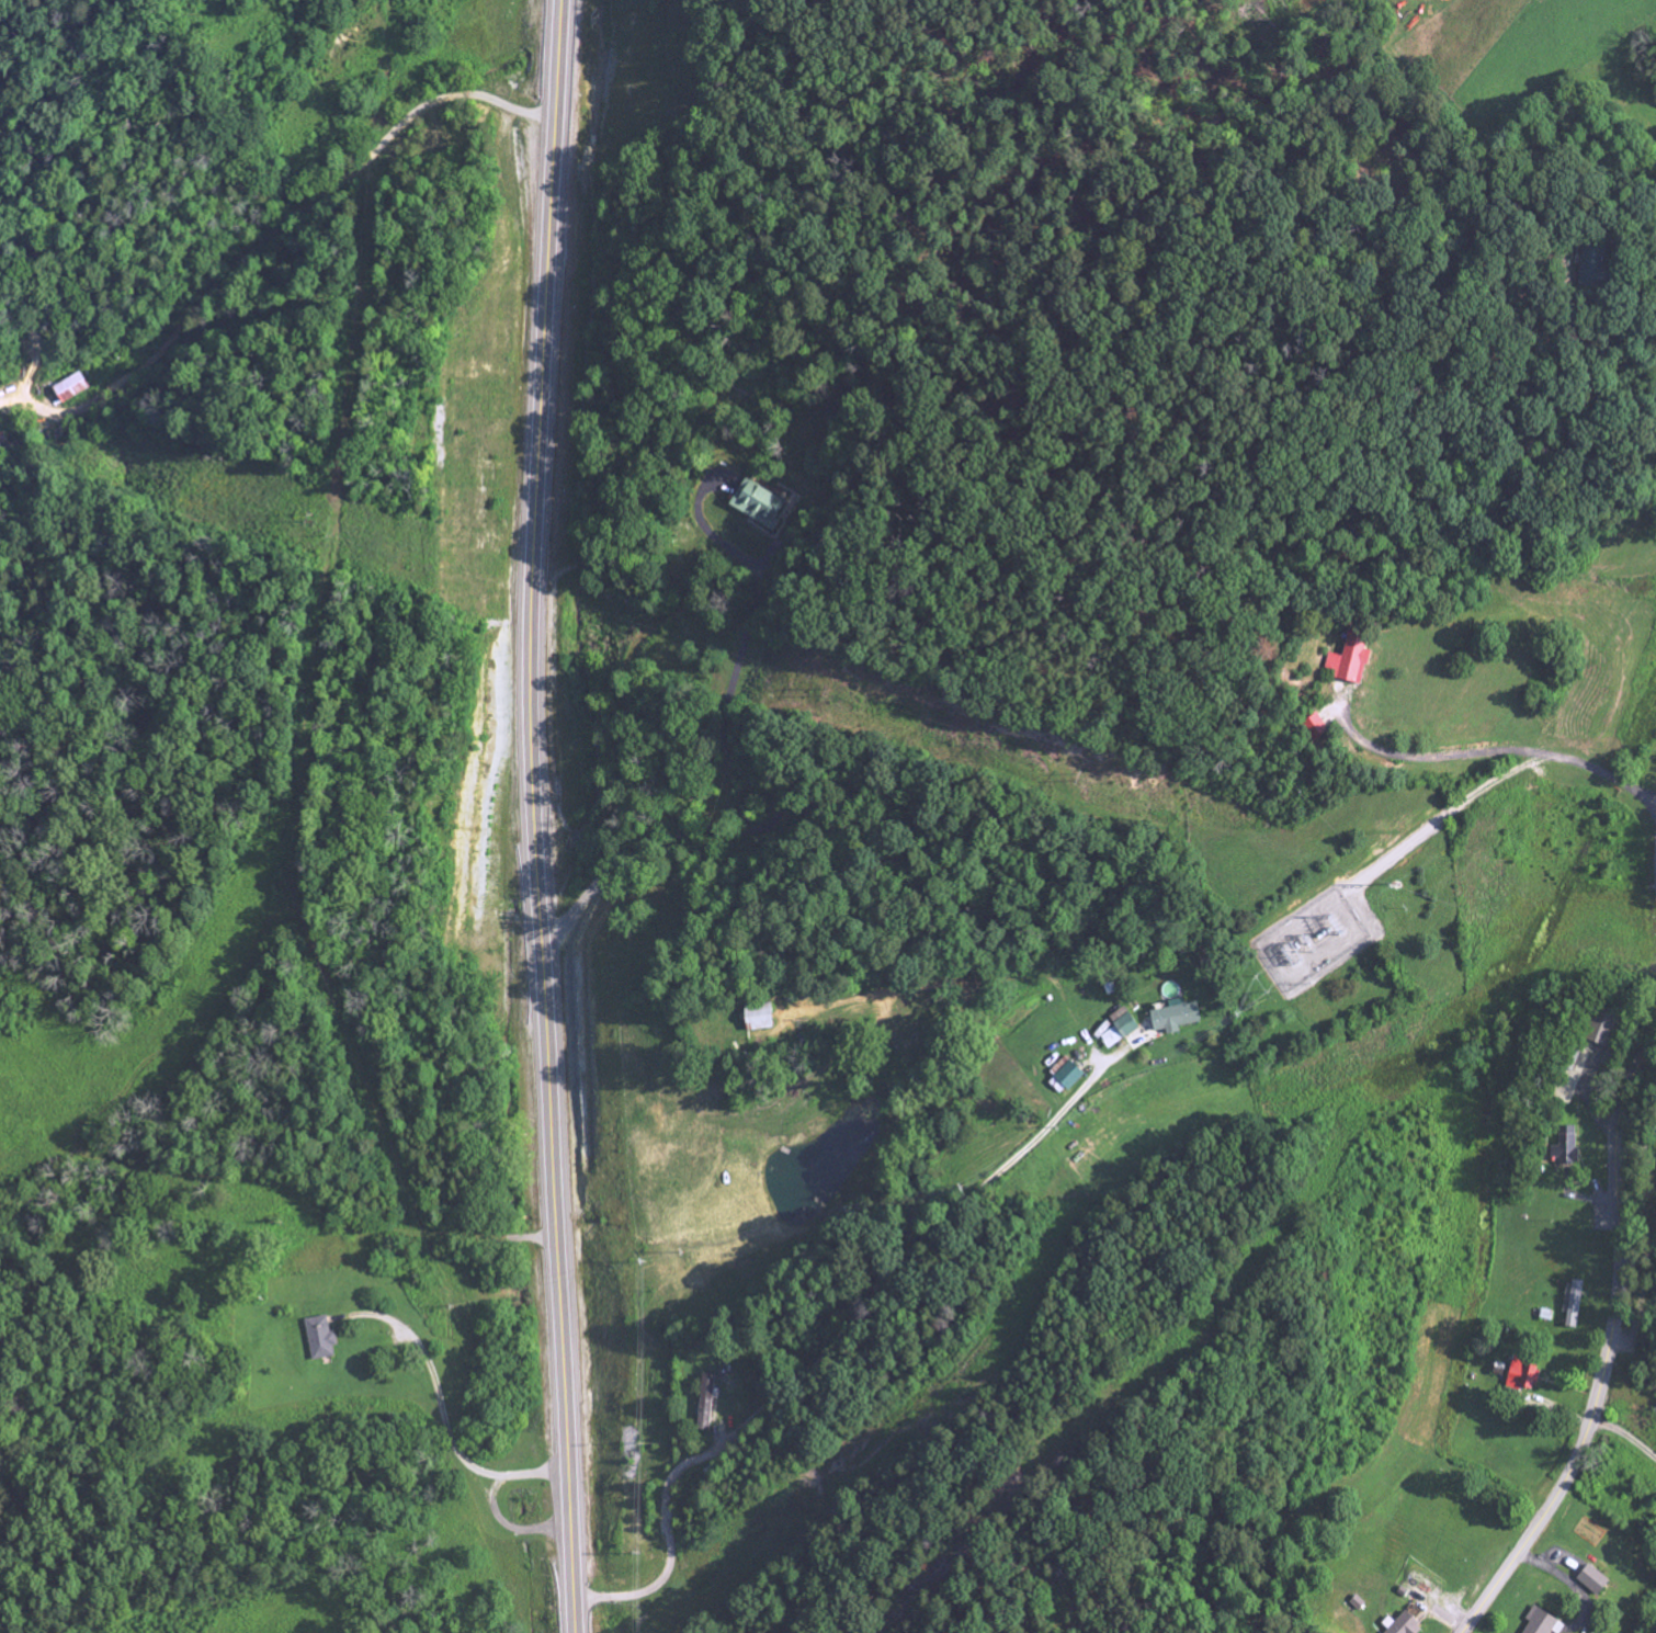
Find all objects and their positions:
road: (295, 208)
road: (1649, 238)
building: (1595, 264)
building: (69, 388)
building: (2, 439)
building: (761, 506)
power tower: (317, 512)
building: (1350, 661)
power tower: (832, 691)
building: (1317, 726)
road: (1489, 753)
power tower: (1084, 776)
road: (745, 781)
road: (534, 817)
power tower: (1398, 882)
power substation: (1315, 938)
building: (756, 1017)
building: (1173, 1017)
building: (1115, 1029)
building: (1601, 1029)
building: (1065, 1074)
building: (1566, 1147)
building: (1574, 1304)
road: (1640, 1306)
building: (320, 1337)
road: (827, 1345)
road: (1609, 1345)
building: (1521, 1375)
road: (439, 1393)
building: (704, 1400)
road: (1625, 1439)
road: (502, 1527)
building: (1592, 1579)
building: (1539, 1621)
building: (1402, 1625)

